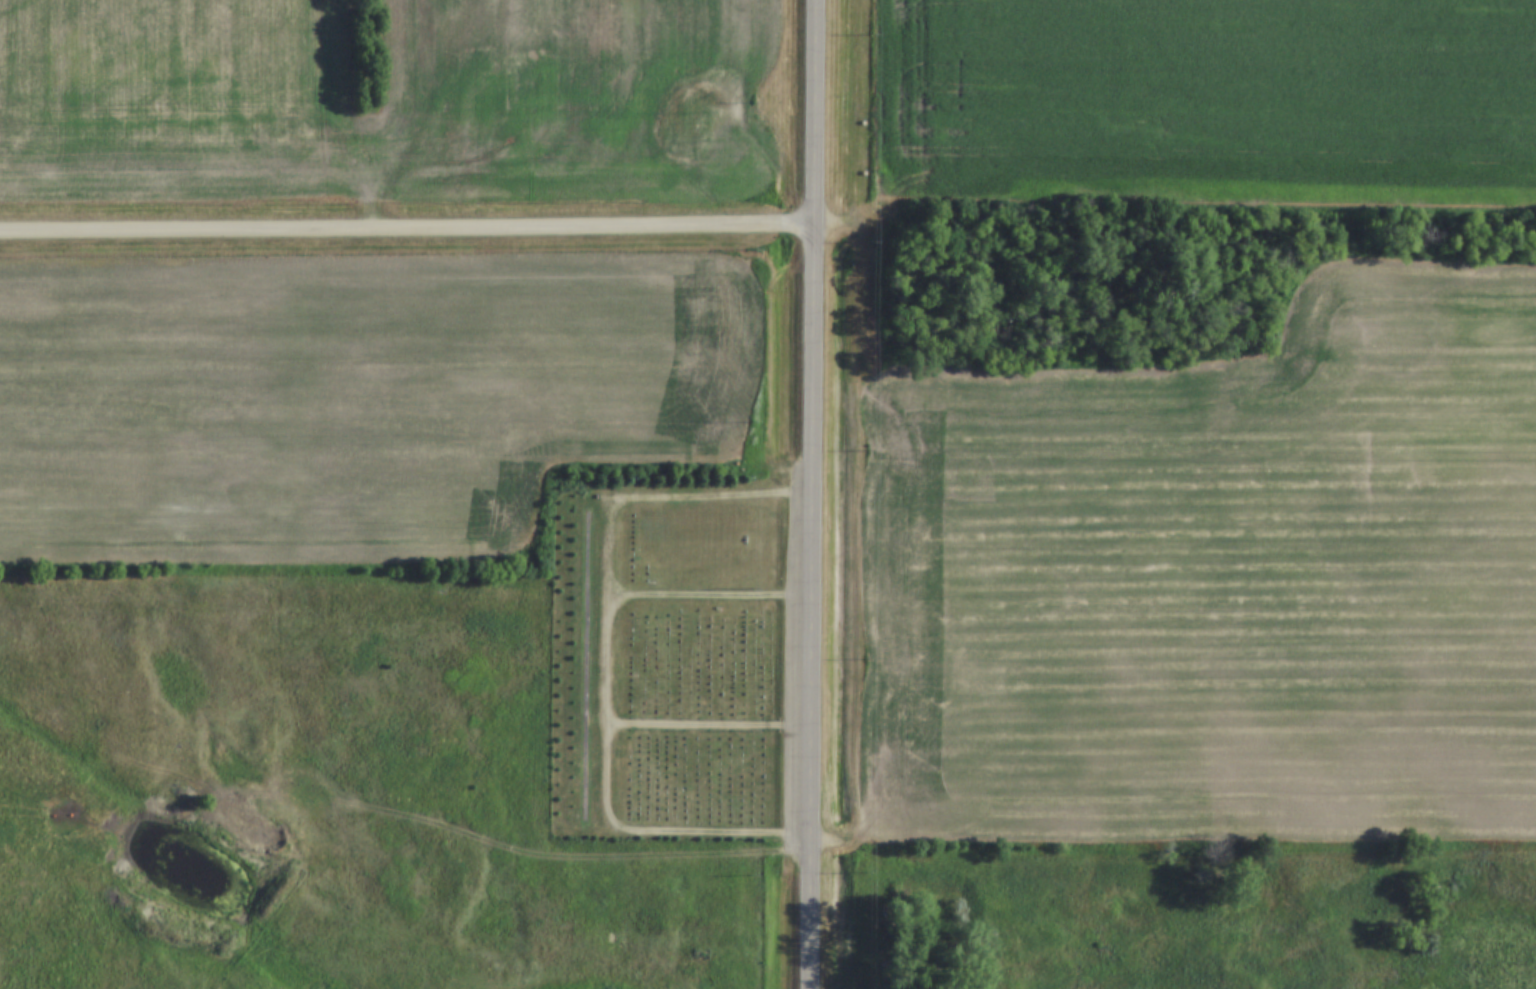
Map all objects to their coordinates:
road: (409, 230)
road: (817, 494)

